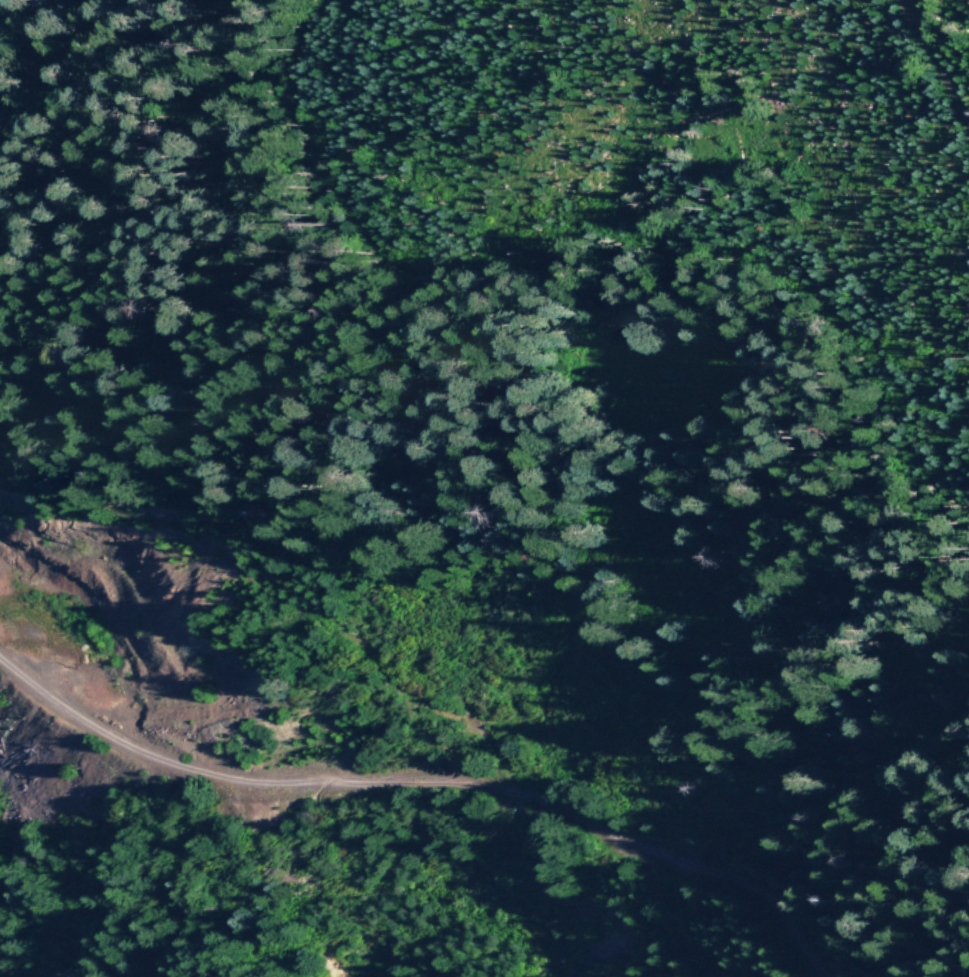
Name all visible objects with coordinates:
road: (949, 86)
road: (416, 790)

